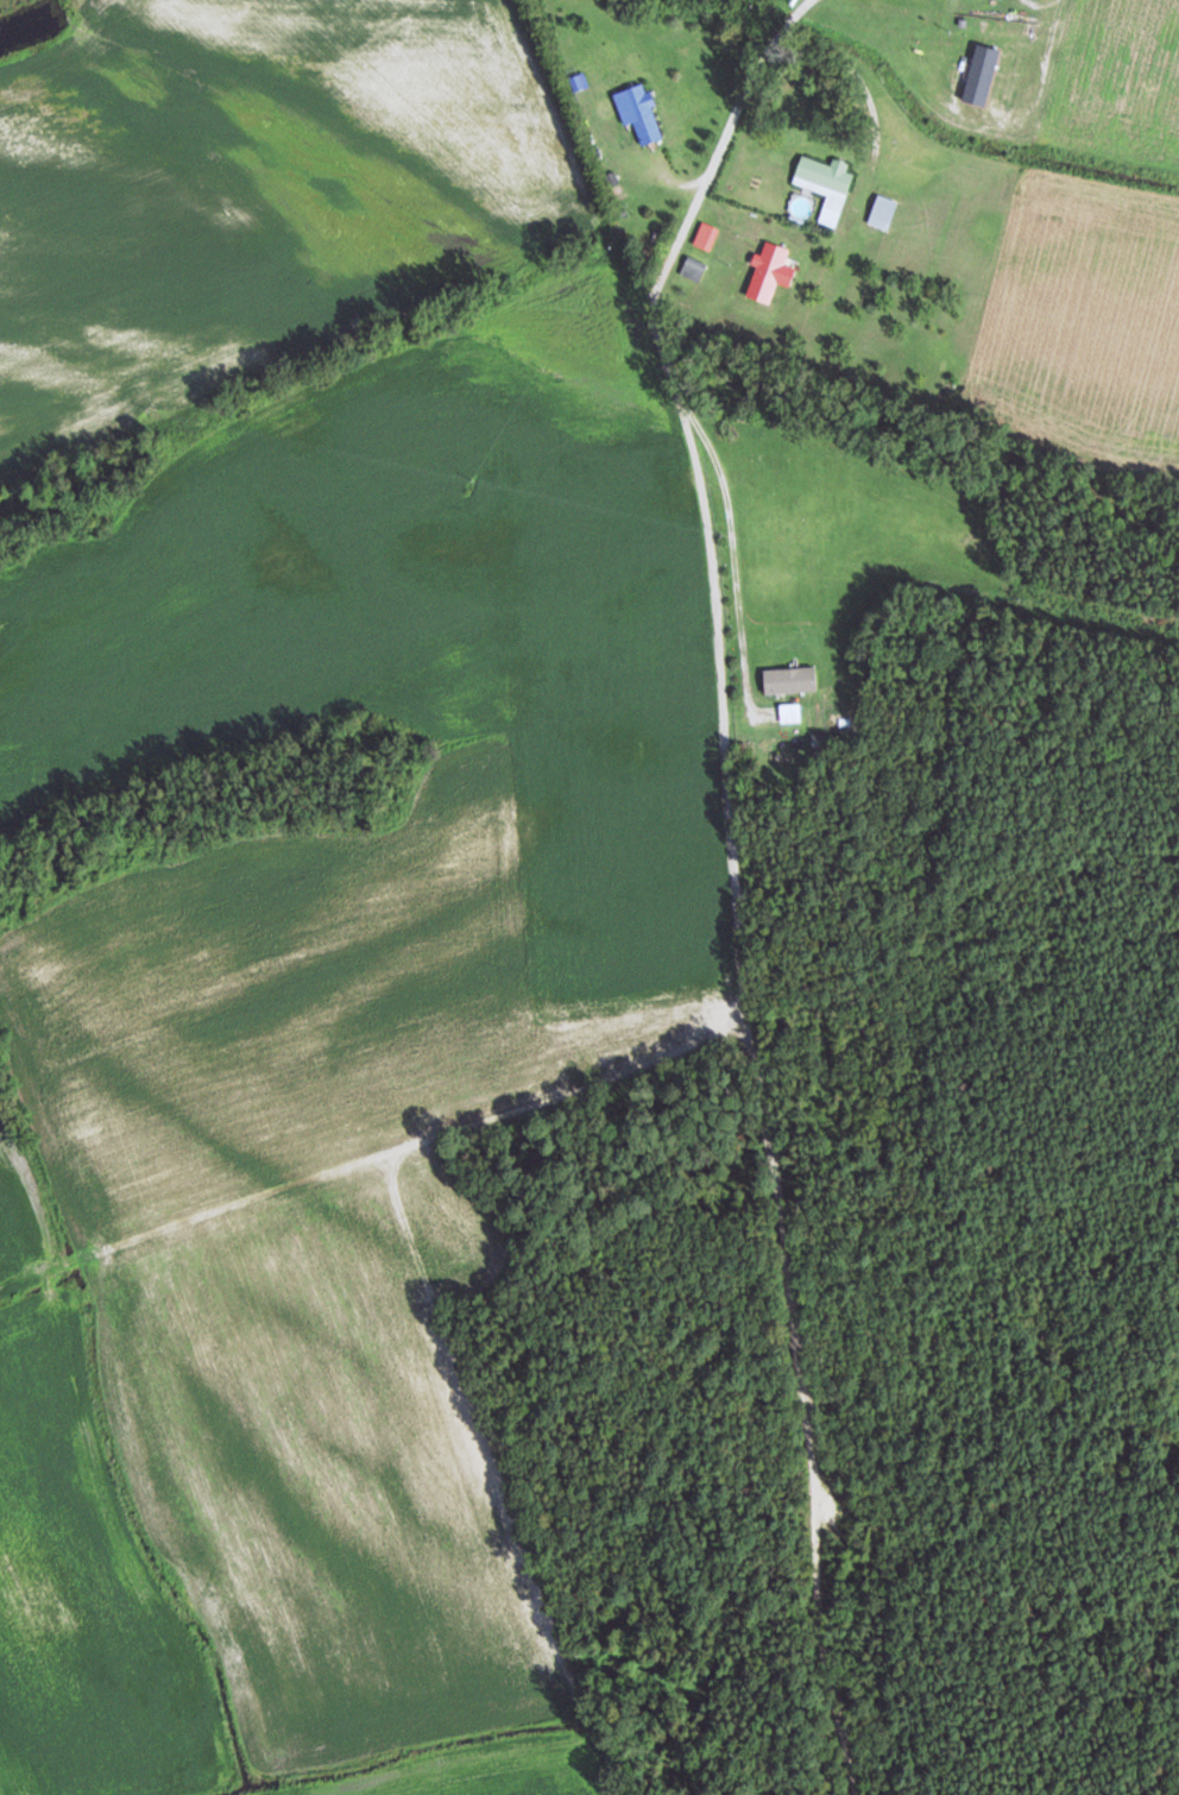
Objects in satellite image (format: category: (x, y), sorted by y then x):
building: (642, 114)
building: (826, 185)
building: (882, 212)
road: (668, 221)
building: (768, 272)
building: (789, 705)

